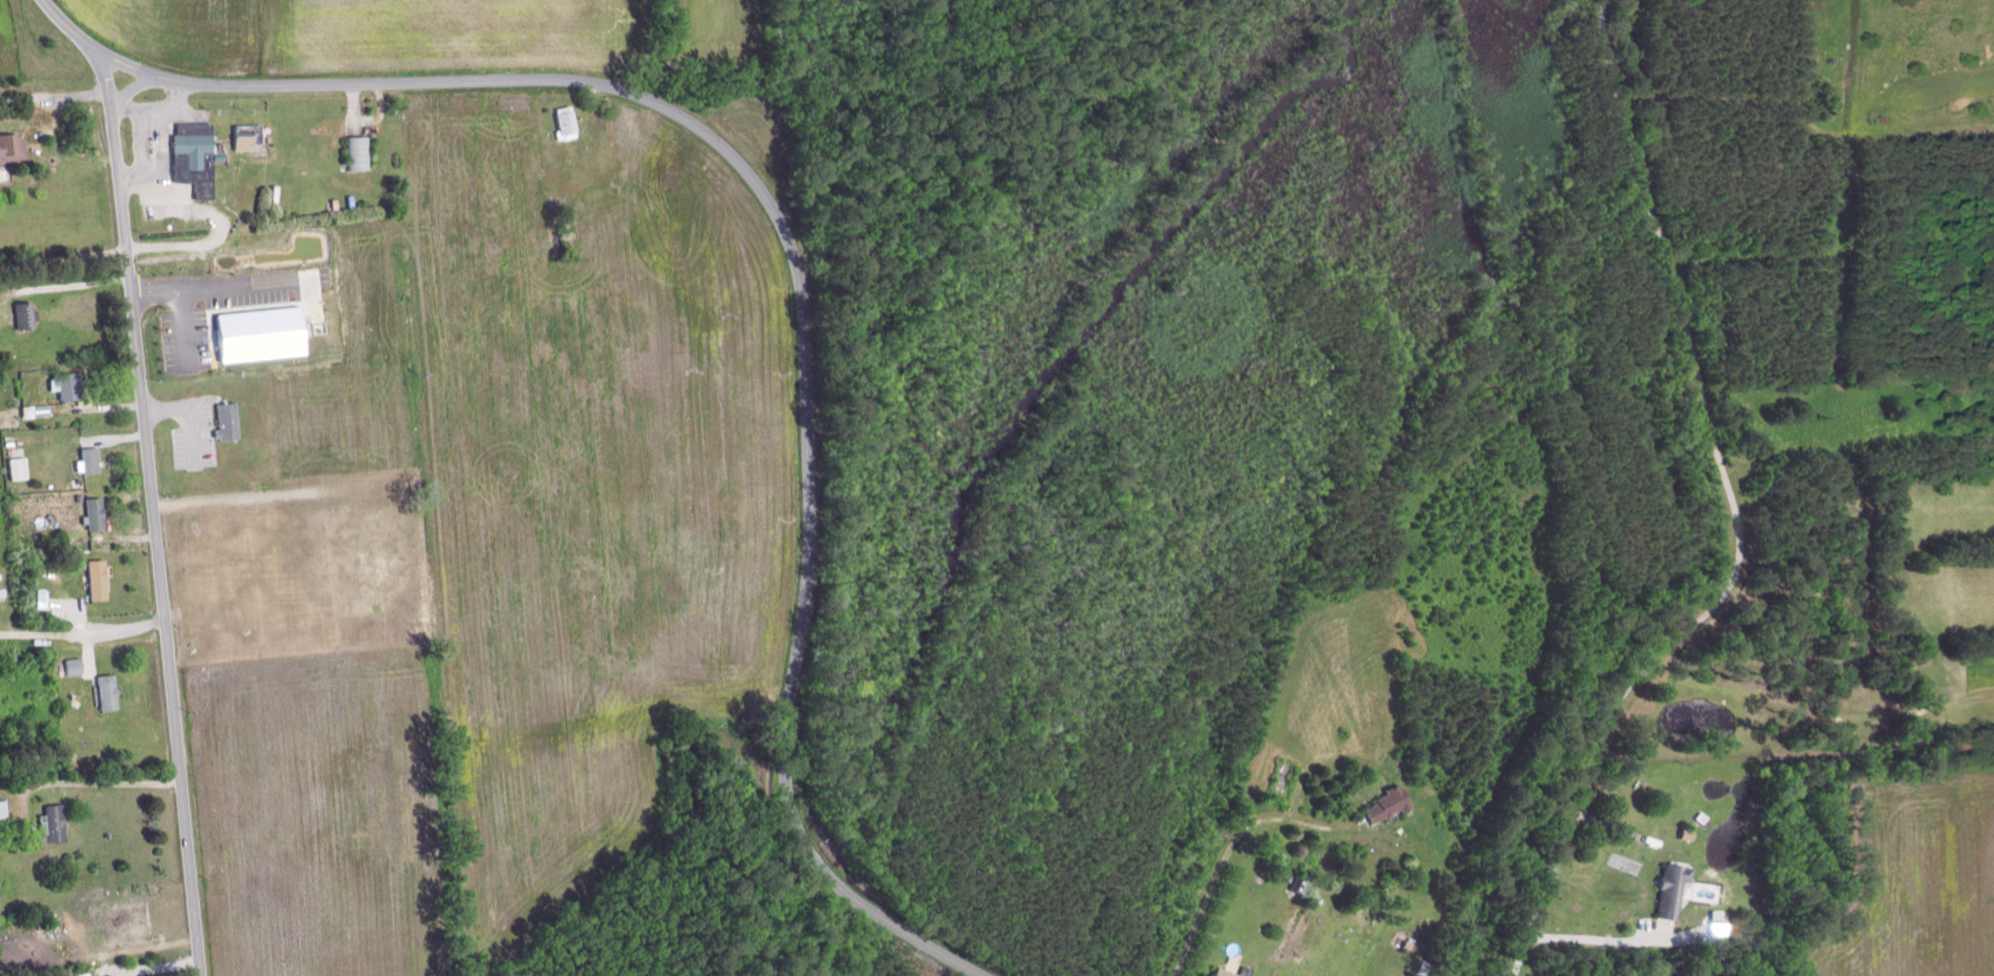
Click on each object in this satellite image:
road: (70, 28)
crop: (179, 30)
crop: (718, 33)
crop: (451, 36)
road: (130, 89)
road: (1769, 100)
road: (353, 109)
road: (595, 110)
road: (141, 113)
road: (382, 113)
building: (566, 126)
road: (51, 129)
building: (251, 137)
road: (160, 140)
building: (11, 147)
building: (358, 153)
building: (197, 159)
road: (64, 265)
road: (799, 276)
road: (238, 285)
parking lot: (262, 286)
building: (23, 316)
building: (209, 322)
road: (184, 330)
building: (261, 336)
parking lot: (185, 342)
building: (65, 385)
building: (34, 409)
road: (189, 414)
building: (228, 423)
parking lot: (186, 430)
building: (88, 459)
building: (16, 467)
building: (93, 512)
road: (154, 513)
road: (1735, 513)
crop: (492, 550)
building: (96, 578)
road: (83, 632)
building: (72, 666)
building: (106, 691)
road: (1817, 712)
building: (1386, 802)
building: (2, 808)
building: (1462, 819)
building: (1699, 819)
building: (51, 823)
road: (1615, 825)
building: (1684, 834)
road: (1224, 855)
building: (1301, 885)
crop: (1915, 885)
building: (1668, 889)
building: (1714, 915)
building: (68, 932)
building: (1209, 936)
road: (1599, 940)
building: (1411, 945)
building: (1434, 953)
building: (1427, 968)
building: (1227, 972)

